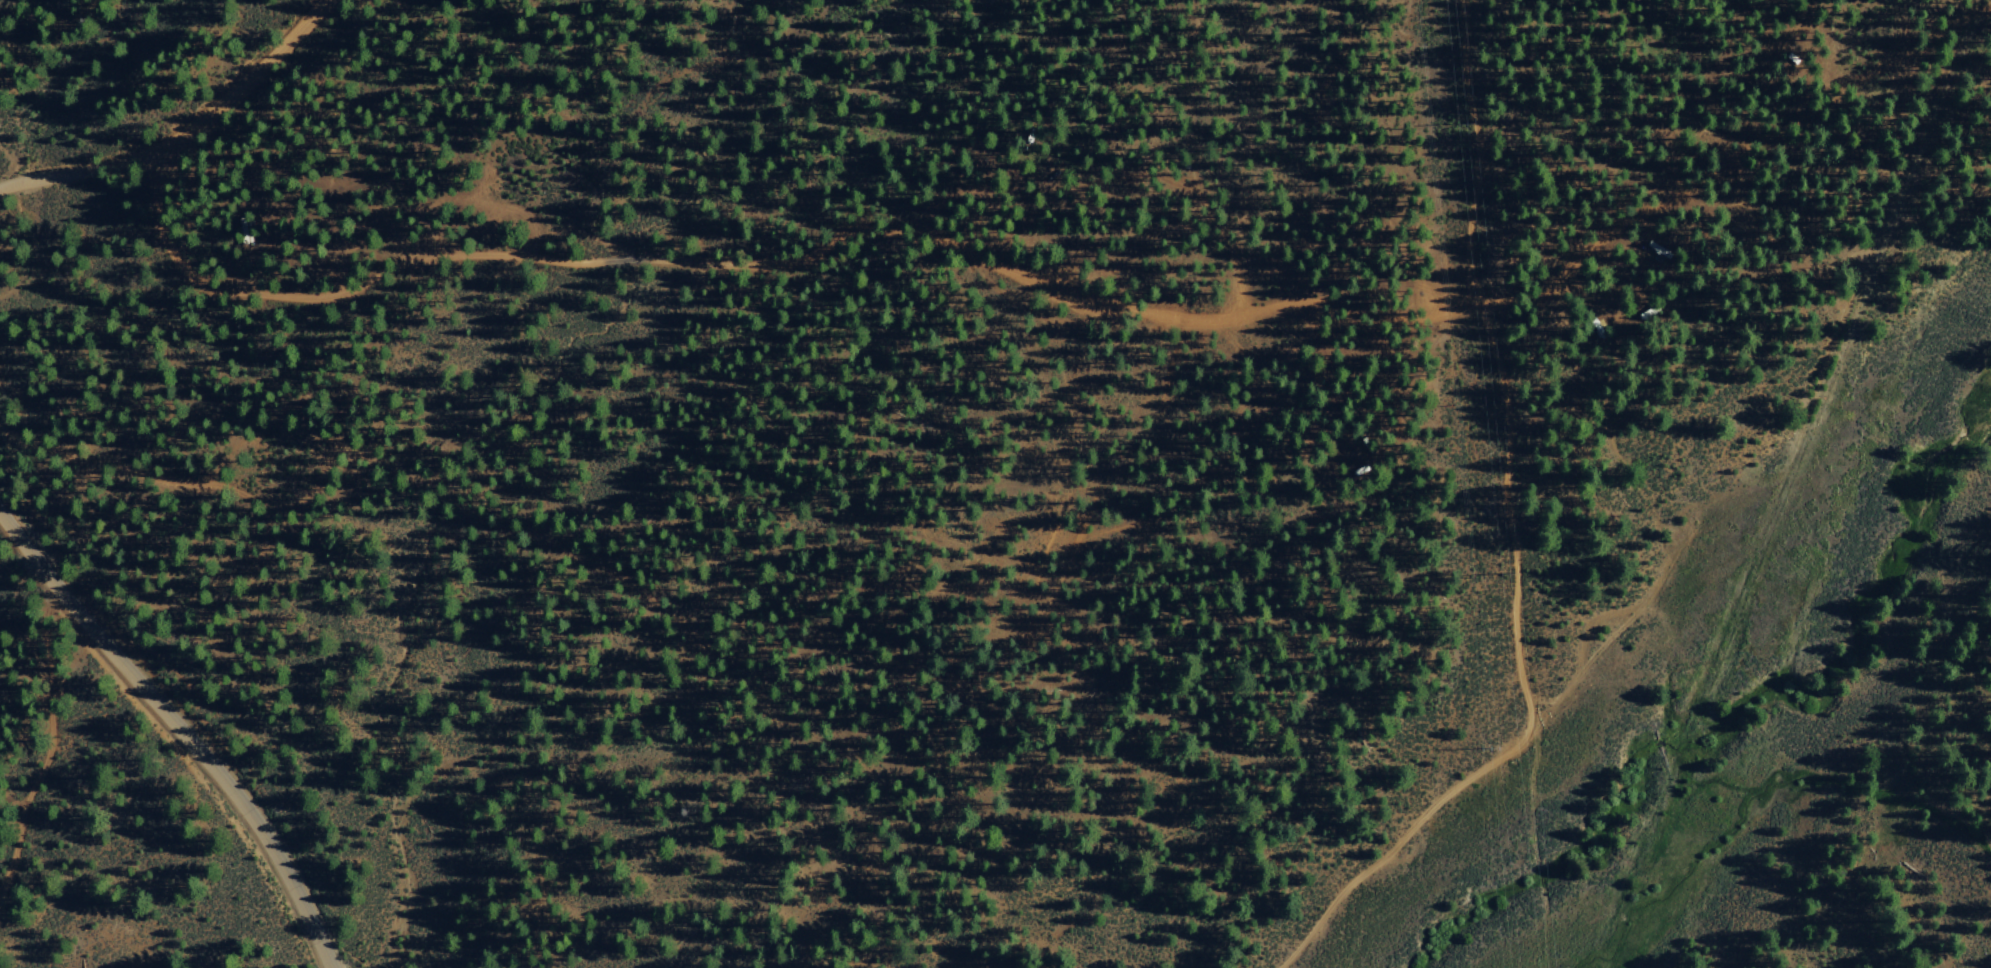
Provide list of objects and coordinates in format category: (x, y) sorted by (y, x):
road: (1964, 9)
power tower: (1452, 121)
road: (185, 132)
road: (1061, 282)
road: (1511, 536)
power tower: (1496, 572)
road: (1586, 643)
road: (51, 732)
road: (179, 732)

